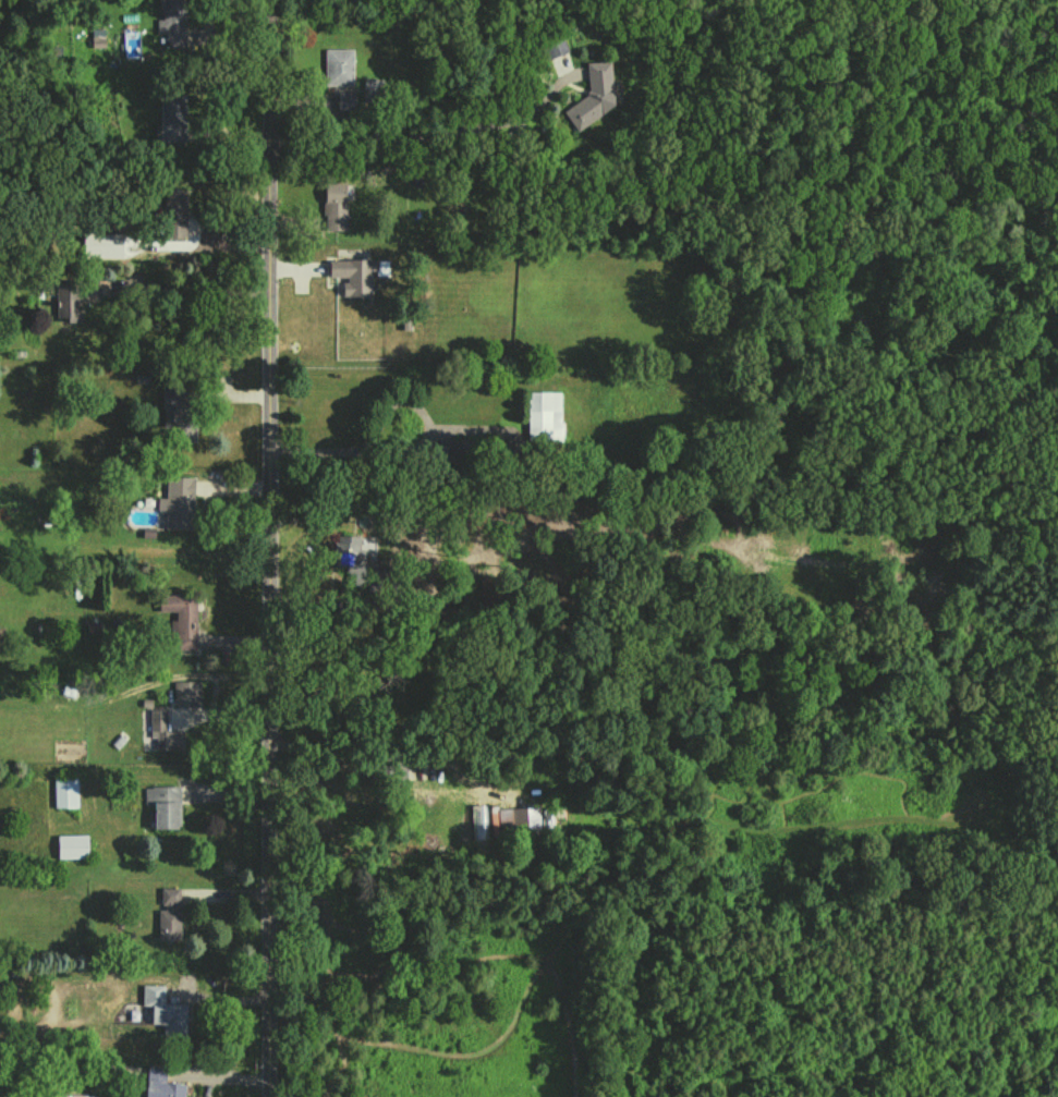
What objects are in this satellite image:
building: (172, 21)
building: (97, 37)
building: (555, 47)
building: (338, 66)
building: (372, 89)
building: (593, 95)
building: (345, 101)
building: (172, 117)
road: (425, 134)
building: (333, 206)
building: (173, 212)
building: (353, 276)
road: (197, 291)
building: (72, 296)
road: (240, 397)
building: (179, 411)
building: (544, 414)
road: (338, 449)
building: (461, 452)
road: (241, 485)
building: (178, 502)
road: (269, 548)
building: (181, 618)
road: (242, 639)
building: (186, 693)
road: (234, 716)
building: (163, 731)
road: (384, 747)
building: (65, 791)
road: (234, 793)
building: (163, 805)
building: (519, 820)
building: (72, 845)
road: (232, 894)
building: (169, 914)
road: (224, 999)
building: (166, 1014)
road: (228, 1074)
building: (165, 1088)
building: (68, 1095)

